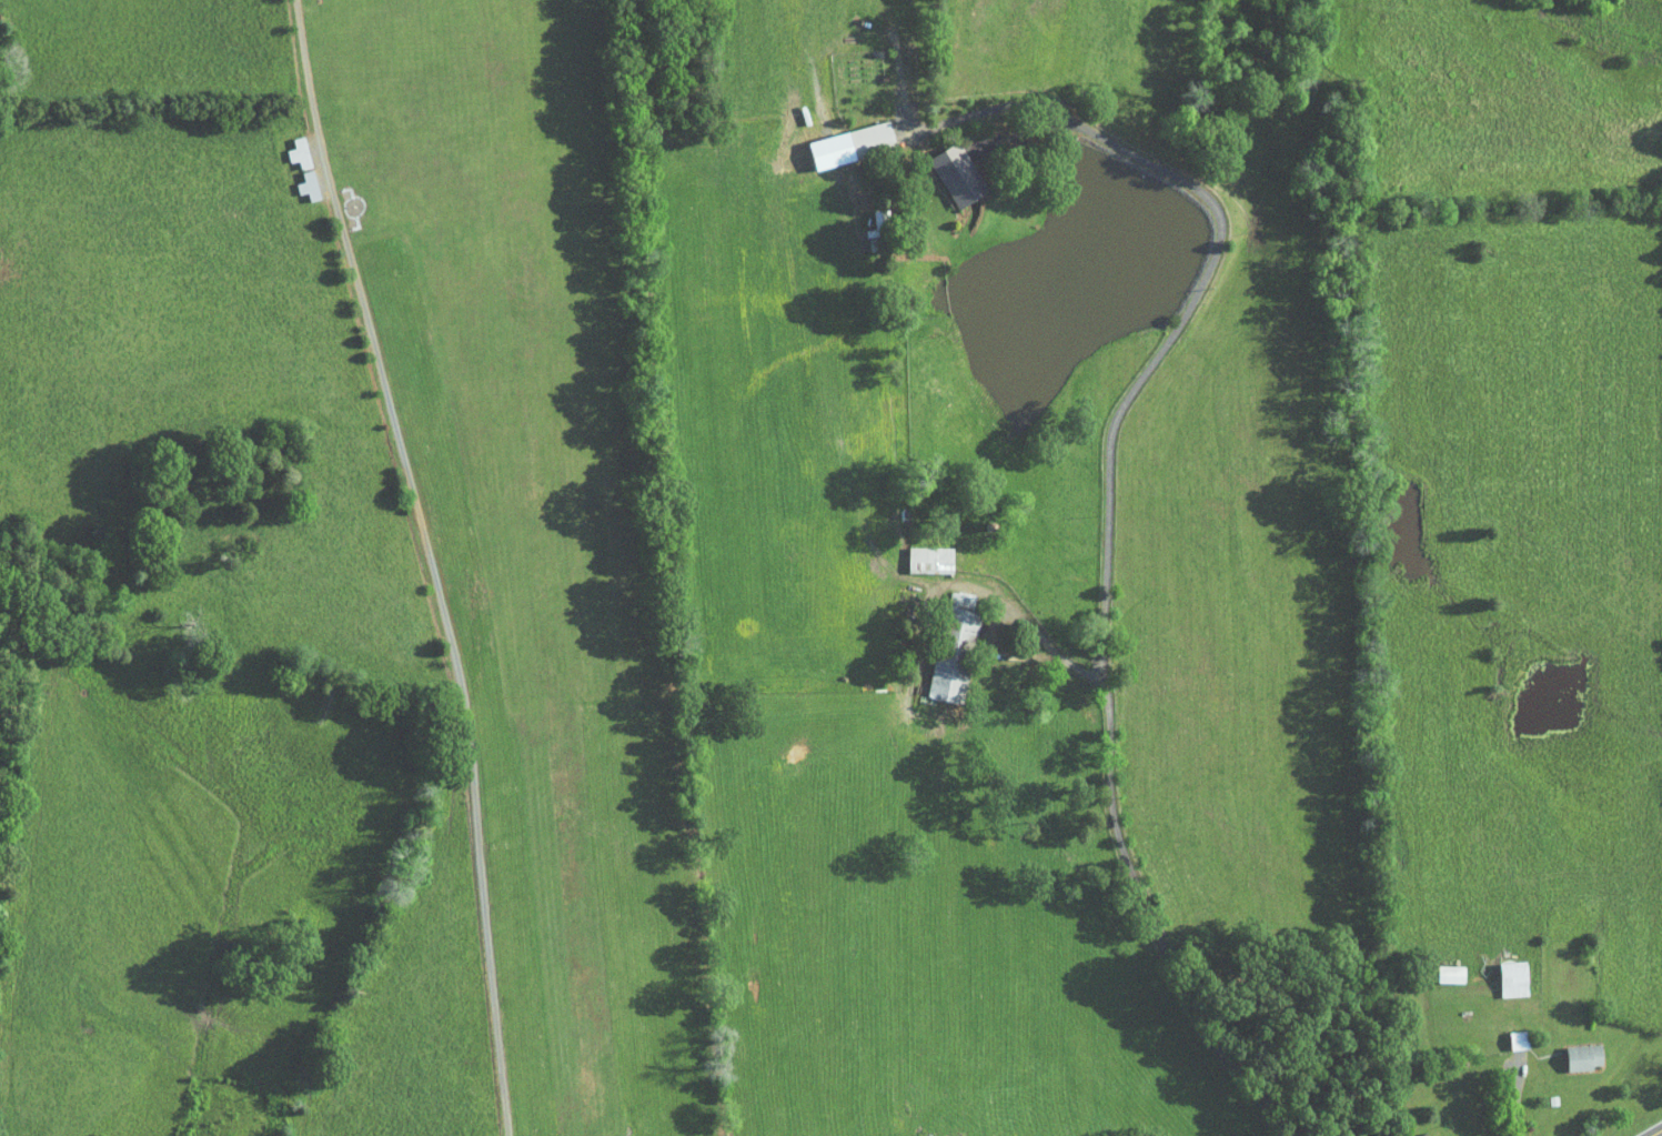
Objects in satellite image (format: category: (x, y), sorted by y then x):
building: (843, 138)
building: (293, 161)
building: (948, 168)
road: (1196, 296)
airport: (534, 521)
building: (920, 553)
road: (431, 563)
airport runway: (546, 567)
road: (1011, 606)
building: (944, 644)
road: (1165, 932)
building: (1441, 966)
building: (1504, 971)
building: (1509, 1032)
building: (1575, 1048)
road: (1515, 1098)
road: (1658, 1133)

